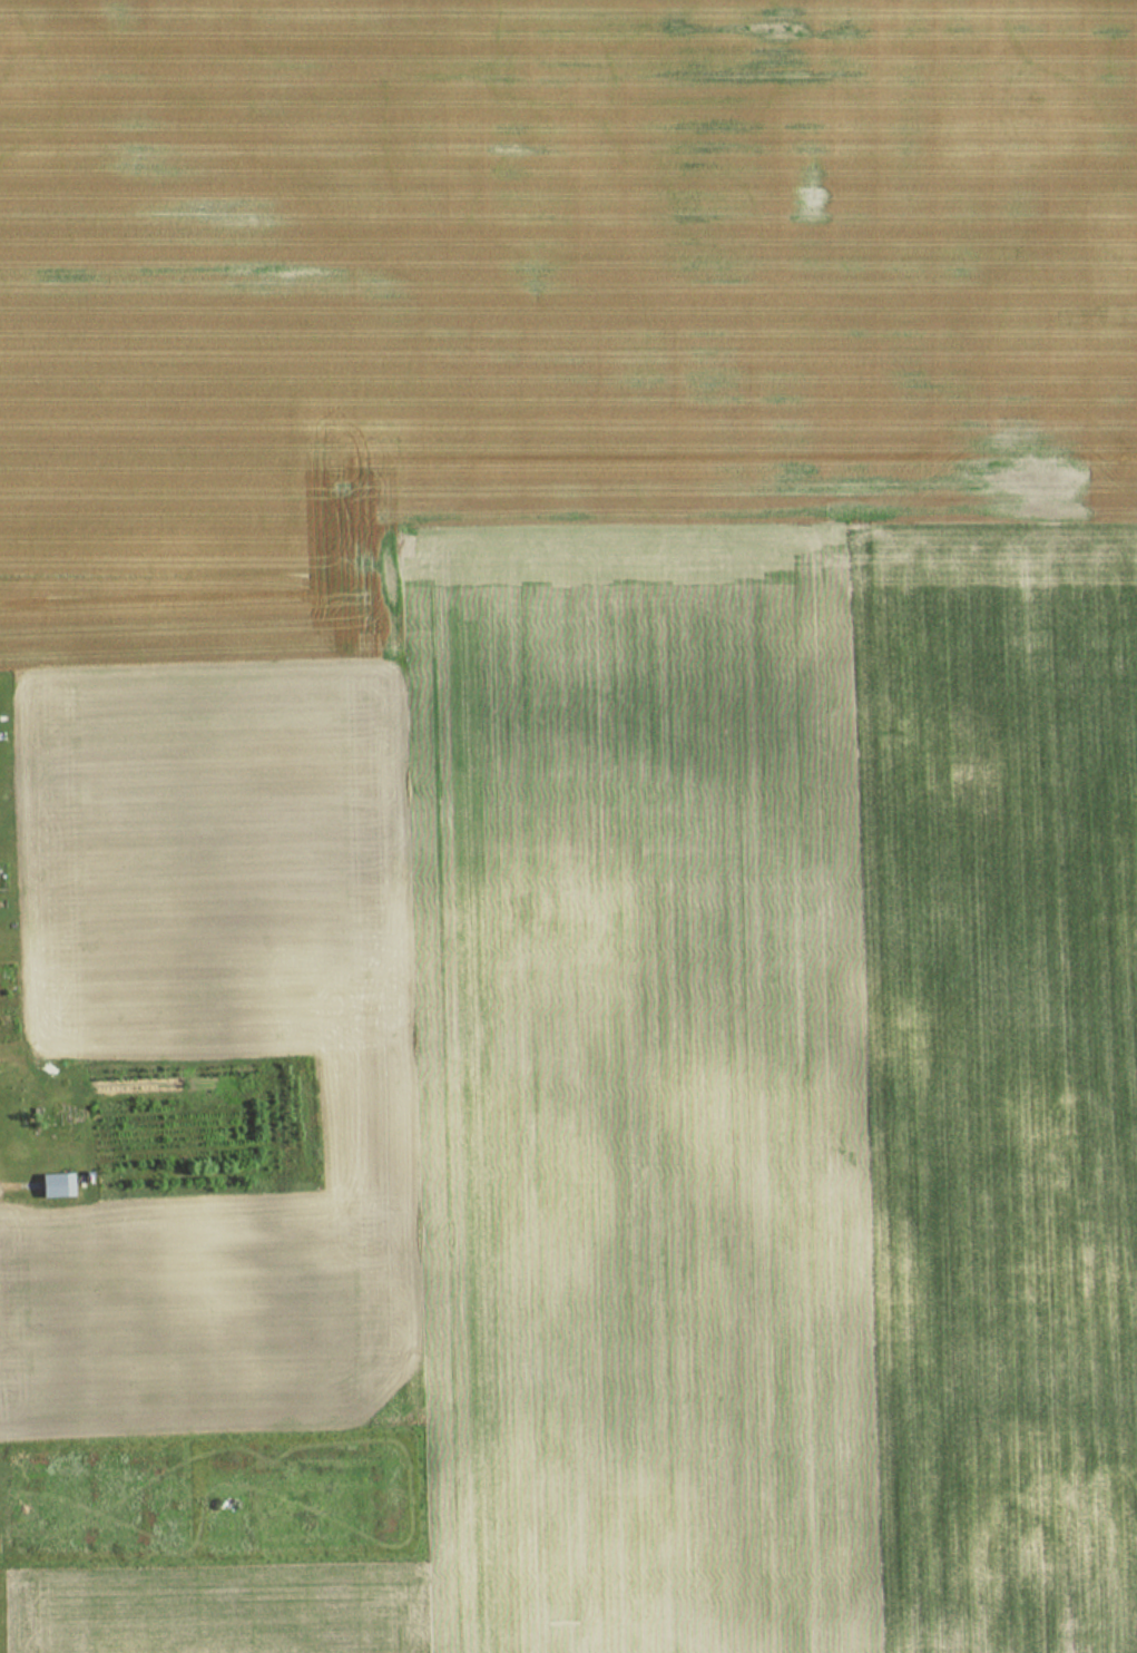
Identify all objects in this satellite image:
crop: (604, 777)
building: (50, 1184)

